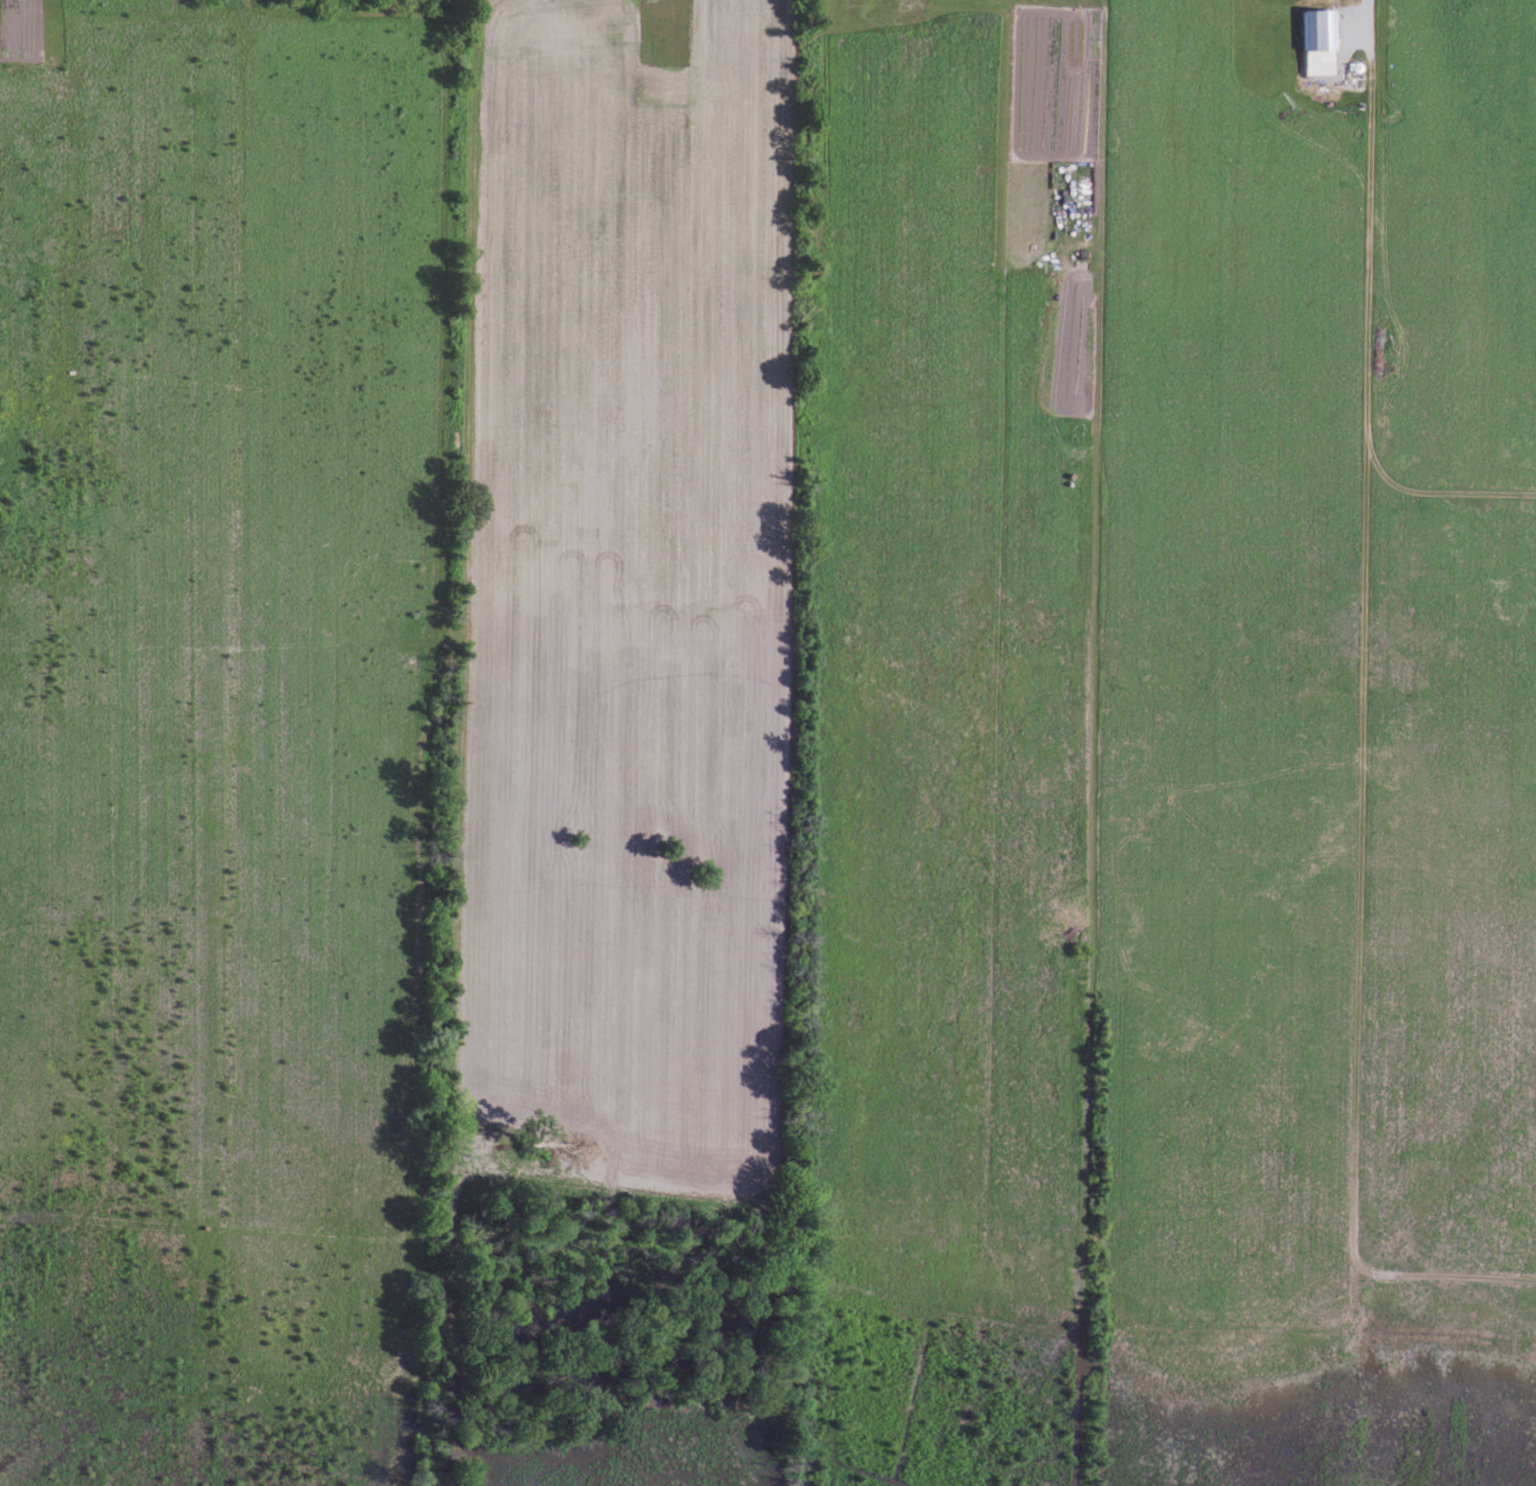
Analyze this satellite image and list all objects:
road: (1348, 21)
building: (1322, 32)
crop: (761, 755)

